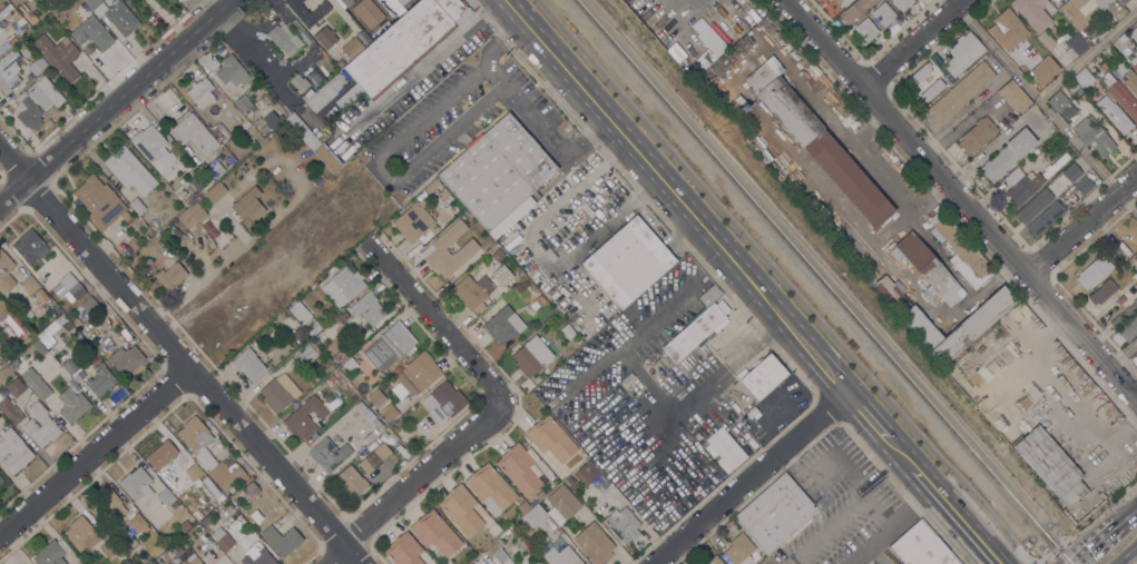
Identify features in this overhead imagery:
building: (19, 1)
building: (1123, 1)
building: (345, 2)
building: (844, 2)
building: (902, 3)
building: (395, 7)
building: (856, 10)
building: (307, 11)
building: (1082, 11)
building: (1033, 12)
building: (367, 13)
building: (115, 14)
building: (883, 14)
building: (29, 17)
building: (13, 19)
building: (0, 22)
building: (1008, 29)
building: (865, 30)
building: (92, 33)
building: (1134, 33)
building: (325, 37)
building: (284, 39)
building: (1045, 40)
road: (914, 41)
building: (1072, 46)
building: (352, 47)
building: (393, 51)
road: (1088, 52)
building: (962, 53)
building: (58, 56)
building: (1134, 62)
road: (420, 63)
building: (37, 66)
building: (1050, 66)
road: (263, 68)
building: (2, 70)
building: (232, 71)
building: (919, 75)
building: (1126, 77)
building: (1082, 78)
building: (298, 82)
building: (932, 90)
building: (200, 92)
building: (960, 92)
building: (1118, 92)
building: (306, 96)
building: (1013, 96)
building: (36, 101)
road: (115, 101)
building: (1061, 102)
building: (243, 103)
road: (1045, 103)
road: (964, 106)
building: (744, 107)
road: (520, 108)
road: (825, 112)
building: (1118, 119)
building: (271, 120)
building: (222, 129)
building: (264, 129)
building: (194, 133)
building: (977, 135)
building: (1092, 136)
building: (816, 141)
building: (314, 144)
building: (153, 149)
building: (1008, 155)
building: (229, 160)
building: (1053, 166)
building: (129, 170)
building: (213, 170)
road: (383, 172)
building: (1071, 172)
building: (498, 175)
building: (198, 181)
building: (1021, 185)
building: (431, 186)
building: (1081, 187)
road: (895, 191)
building: (215, 192)
building: (443, 192)
road: (674, 197)
road: (964, 199)
building: (100, 202)
road: (560, 205)
building: (137, 206)
building: (1033, 206)
building: (248, 207)
building: (192, 215)
building: (1045, 218)
building: (415, 221)
road: (1080, 224)
building: (210, 232)
road: (582, 243)
building: (134, 244)
building: (28, 248)
building: (434, 249)
building: (960, 250)
building: (125, 255)
building: (497, 255)
building: (1135, 258)
building: (628, 261)
railway: (786, 261)
building: (928, 269)
building: (6, 273)
building: (1094, 273)
road: (954, 274)
building: (170, 277)
railway: (823, 281)
road: (784, 283)
building: (30, 285)
building: (343, 286)
building: (1135, 286)
building: (68, 287)
building: (519, 287)
building: (1102, 291)
building: (473, 293)
building: (709, 295)
building: (41, 296)
building: (1119, 299)
building: (537, 303)
building: (89, 305)
building: (369, 308)
building: (1129, 310)
building: (300, 313)
building: (26, 314)
building: (977, 321)
building: (12, 323)
building: (1116, 323)
building: (503, 326)
building: (1128, 329)
building: (314, 330)
road: (442, 332)
building: (567, 332)
building: (696, 332)
building: (51, 336)
building: (389, 346)
building: (38, 348)
building: (3, 352)
building: (17, 352)
building: (306, 353)
road: (1123, 354)
building: (339, 356)
building: (531, 356)
road: (179, 357)
building: (126, 359)
building: (68, 363)
building: (350, 364)
building: (248, 365)
road: (725, 367)
building: (330, 368)
building: (418, 374)
building: (762, 376)
building: (332, 378)
building: (97, 383)
building: (36, 384)
building: (14, 387)
road: (1064, 388)
building: (278, 393)
building: (376, 398)
building: (443, 402)
building: (72, 405)
building: (10, 409)
building: (389, 413)
building: (754, 413)
road: (864, 416)
building: (305, 417)
building: (40, 425)
building: (192, 433)
building: (550, 438)
building: (725, 448)
building: (13, 451)
road: (95, 453)
building: (329, 454)
road: (900, 454)
building: (161, 455)
building: (370, 462)
building: (1050, 465)
building: (519, 469)
building: (194, 473)
building: (586, 474)
building: (226, 476)
road: (748, 478)
building: (1, 482)
building: (570, 482)
building: (351, 483)
road: (415, 484)
building: (137, 485)
building: (179, 486)
building: (251, 489)
building: (490, 489)
building: (165, 497)
building: (561, 504)
building: (107, 508)
building: (461, 509)
building: (774, 514)
road: (1127, 514)
road: (957, 516)
building: (529, 518)
road: (840, 518)
building: (138, 524)
road: (1087, 524)
building: (623, 525)
building: (184, 526)
road: (895, 528)
building: (81, 533)
building: (434, 533)
building: (222, 538)
building: (282, 540)
building: (133, 543)
building: (594, 543)
road: (1094, 543)
building: (108, 547)
building: (921, 547)
building: (744, 548)
building: (403, 550)
building: (497, 551)
road: (1125, 552)
building: (50, 553)
road: (1133, 554)
building: (257, 555)
building: (561, 556)
road: (873, 557)
building: (189, 558)
building: (714, 560)
building: (79, 563)

